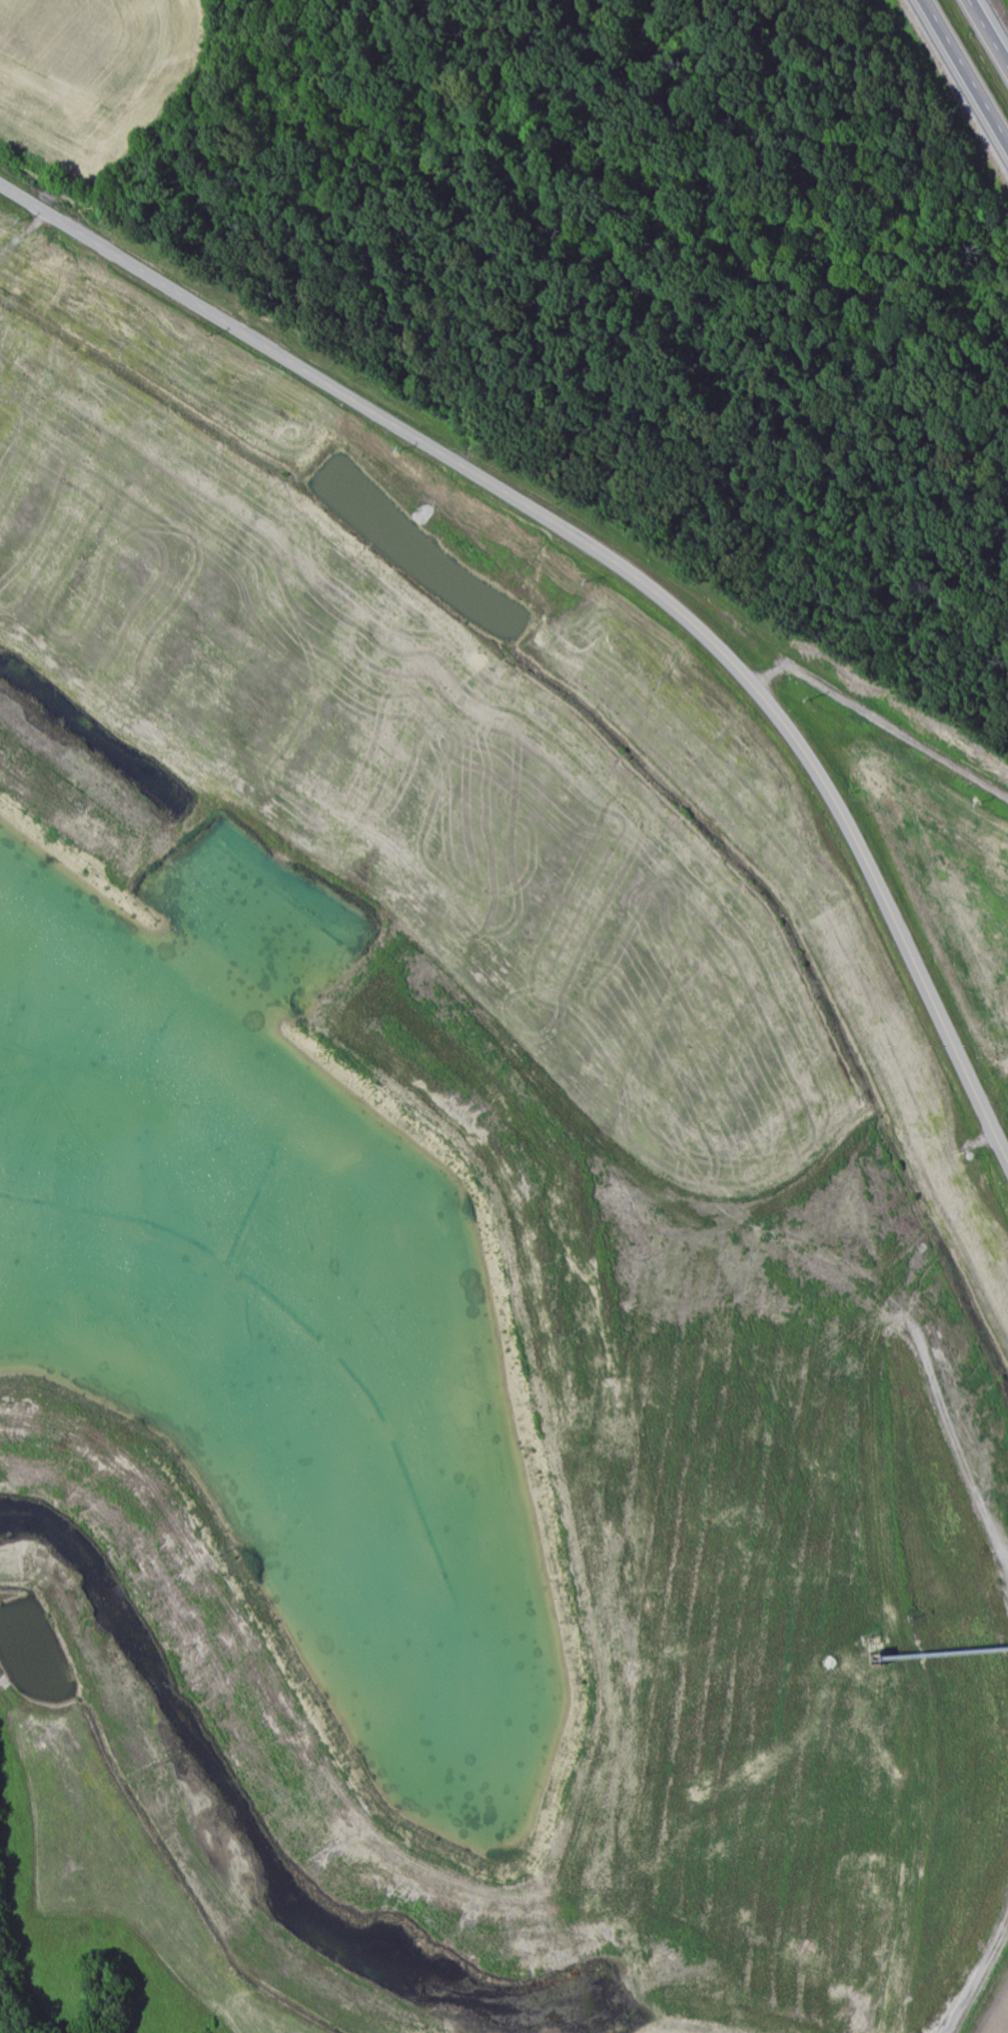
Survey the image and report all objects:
road: (989, 31)
road: (964, 74)
road: (25, 236)
road: (617, 564)
road: (981, 1141)

